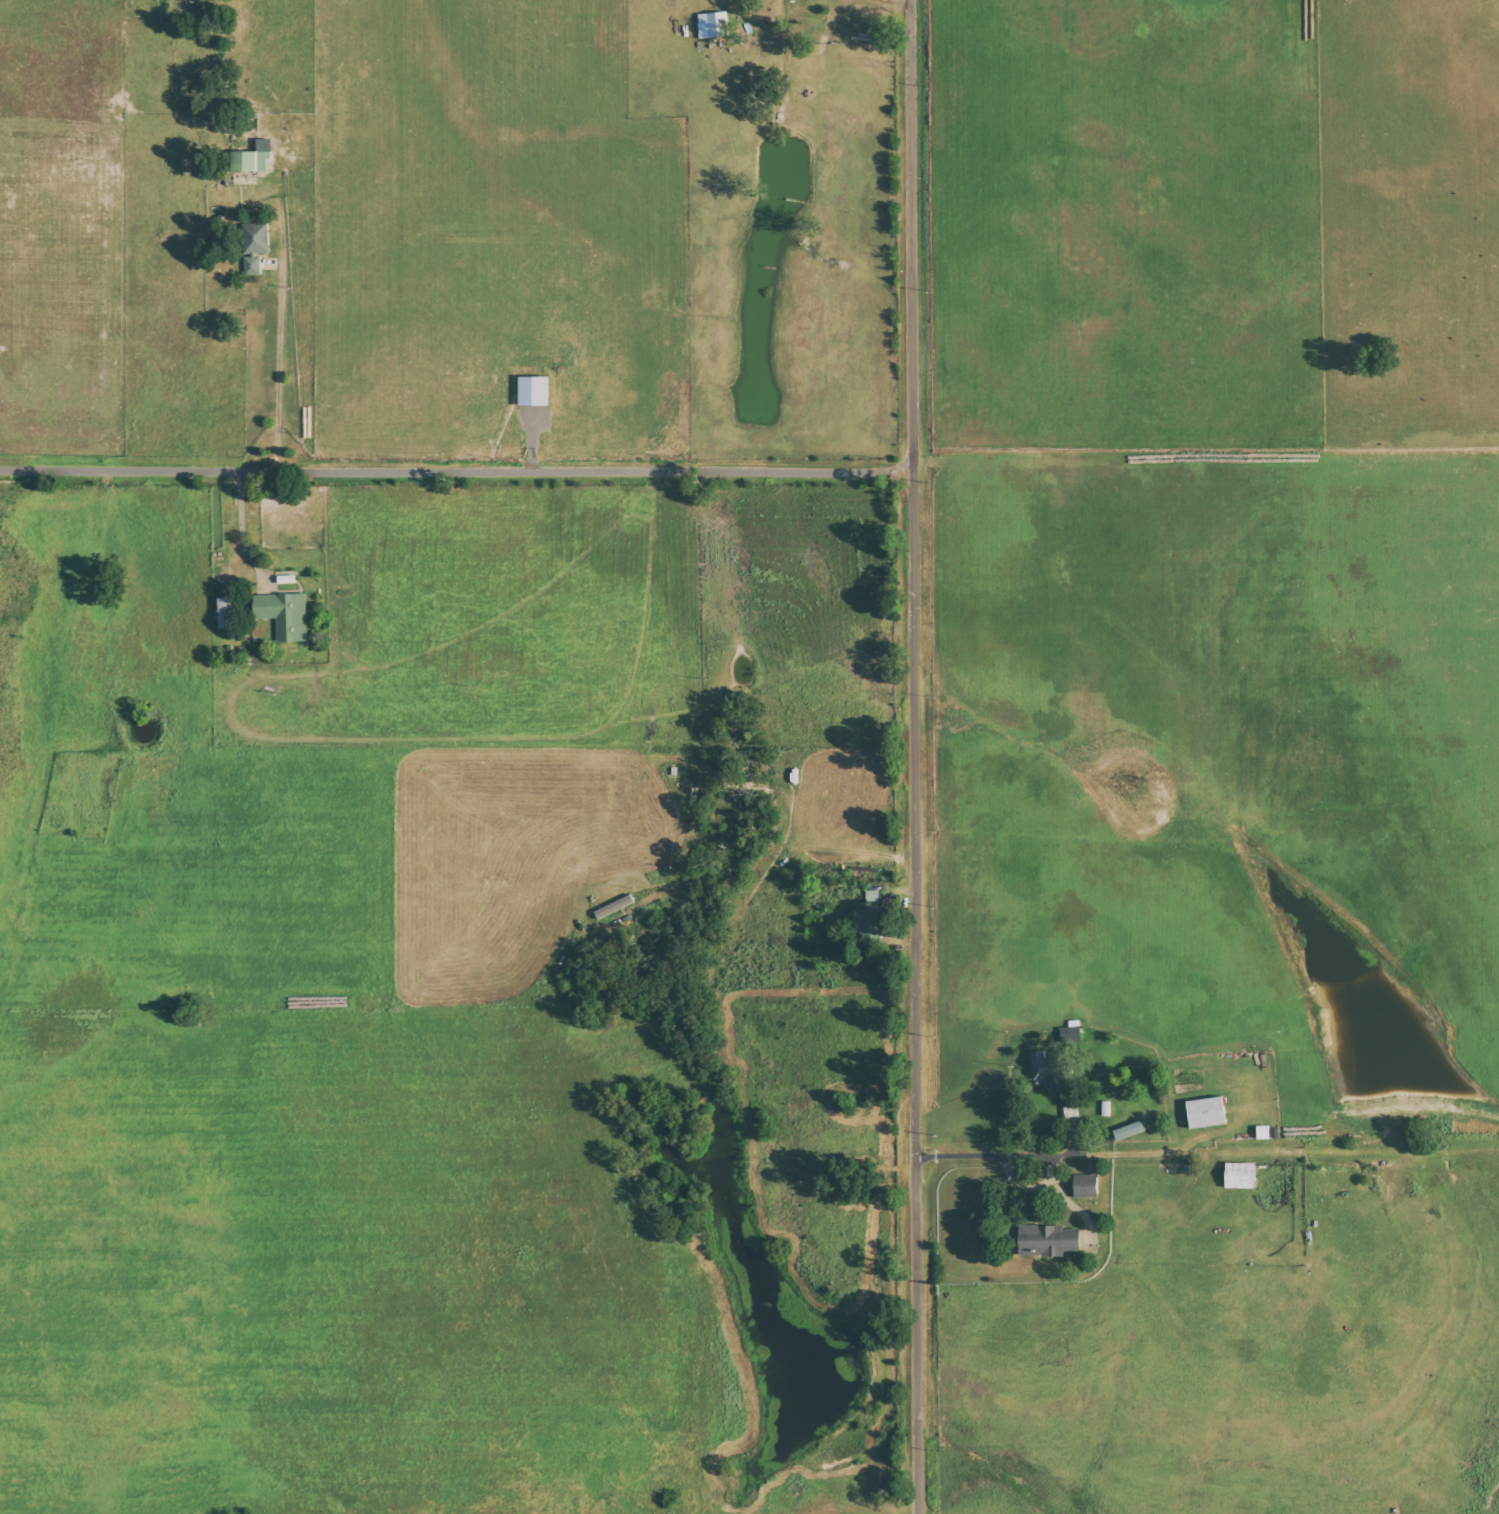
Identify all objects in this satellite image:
building: (713, 25)
building: (252, 157)
building: (255, 247)
road: (457, 471)
building: (223, 612)
building: (284, 614)
road: (915, 756)
building: (872, 895)
building: (868, 925)
building: (1043, 1071)
building: (1205, 1112)
building: (1239, 1175)
building: (1085, 1186)
building: (1048, 1240)

